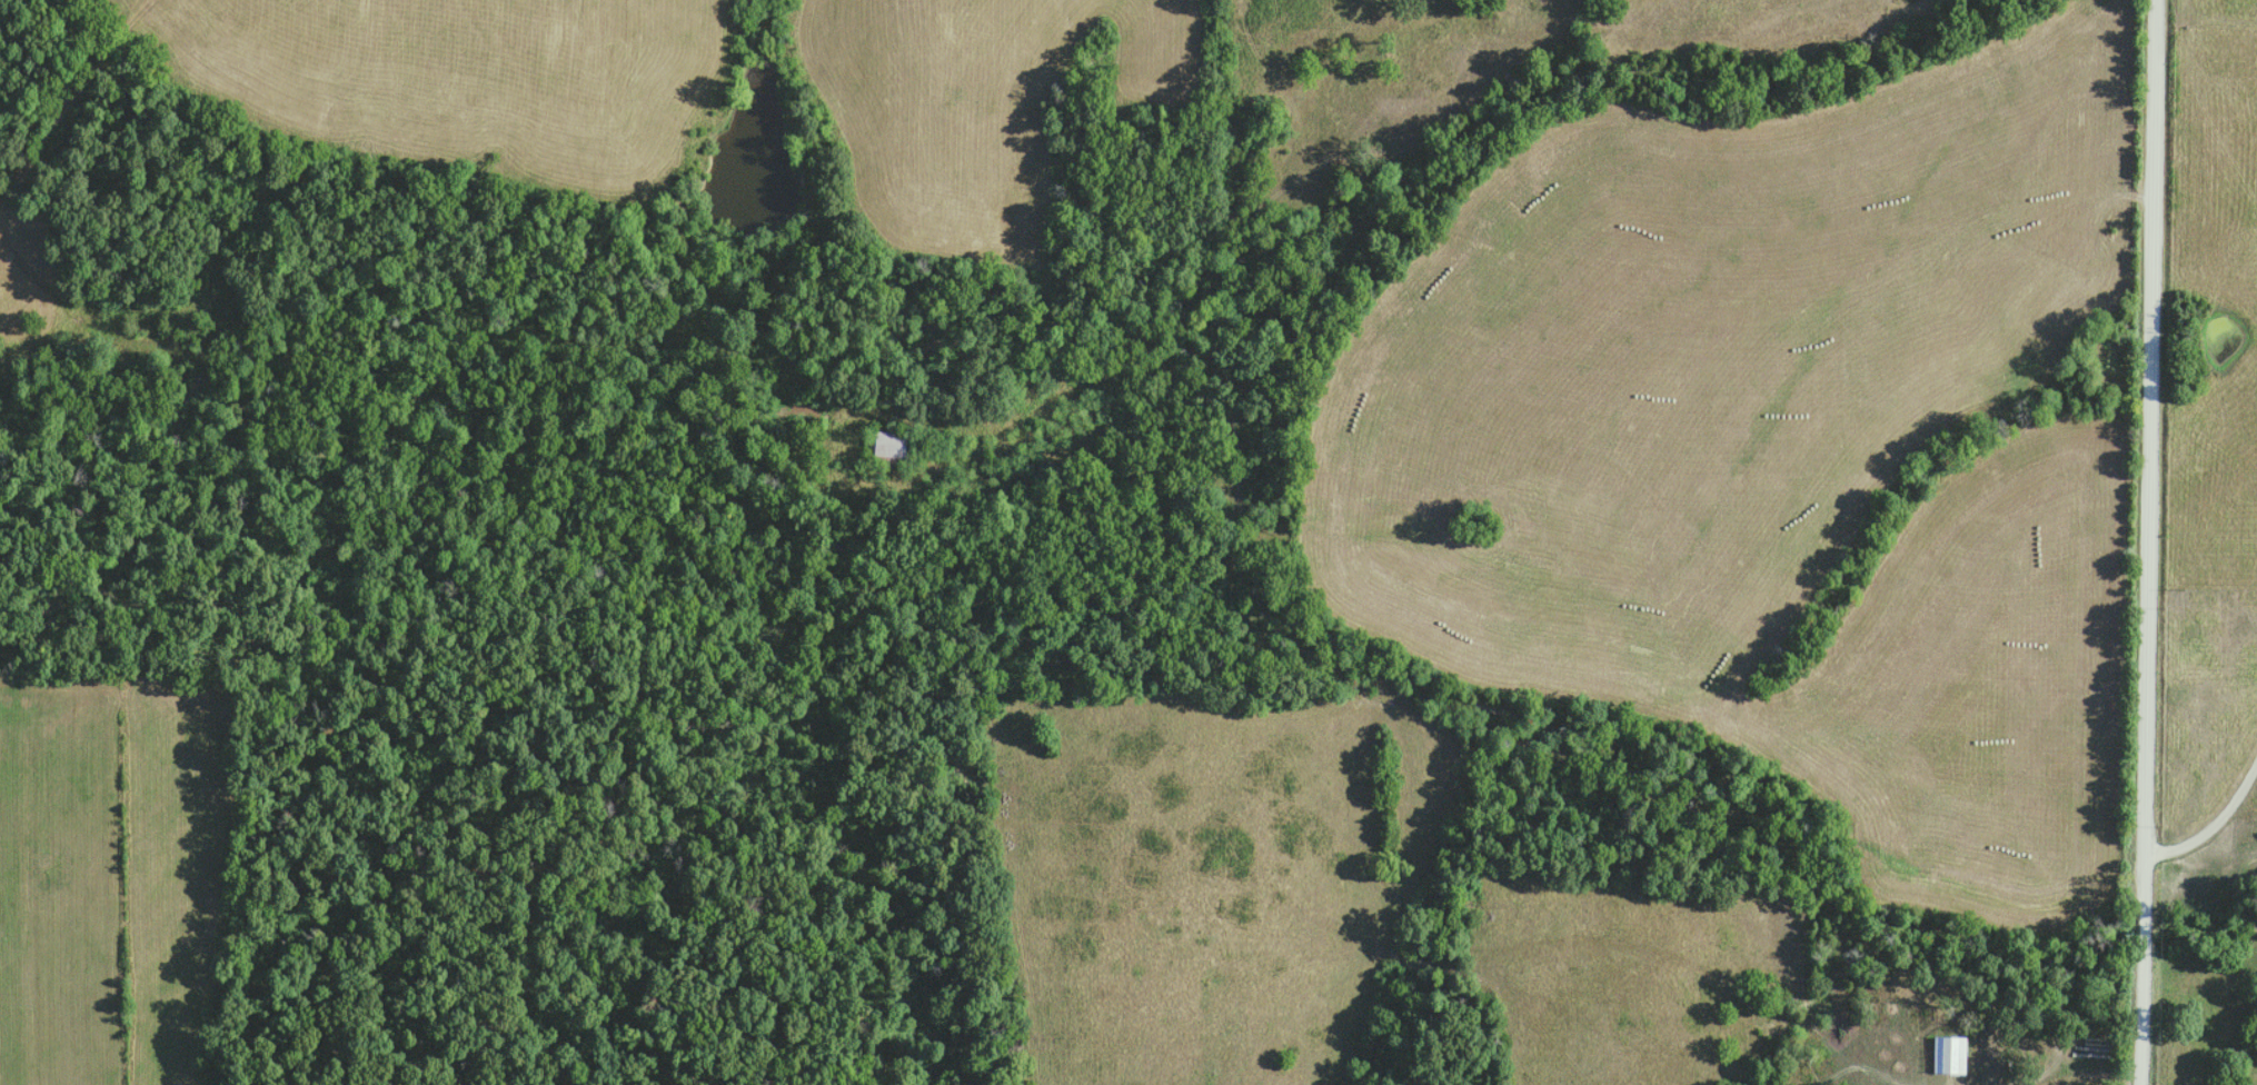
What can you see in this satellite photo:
building: (889, 446)
road: (2149, 542)
road: (2211, 815)
building: (1949, 1054)
road: (1985, 1071)

